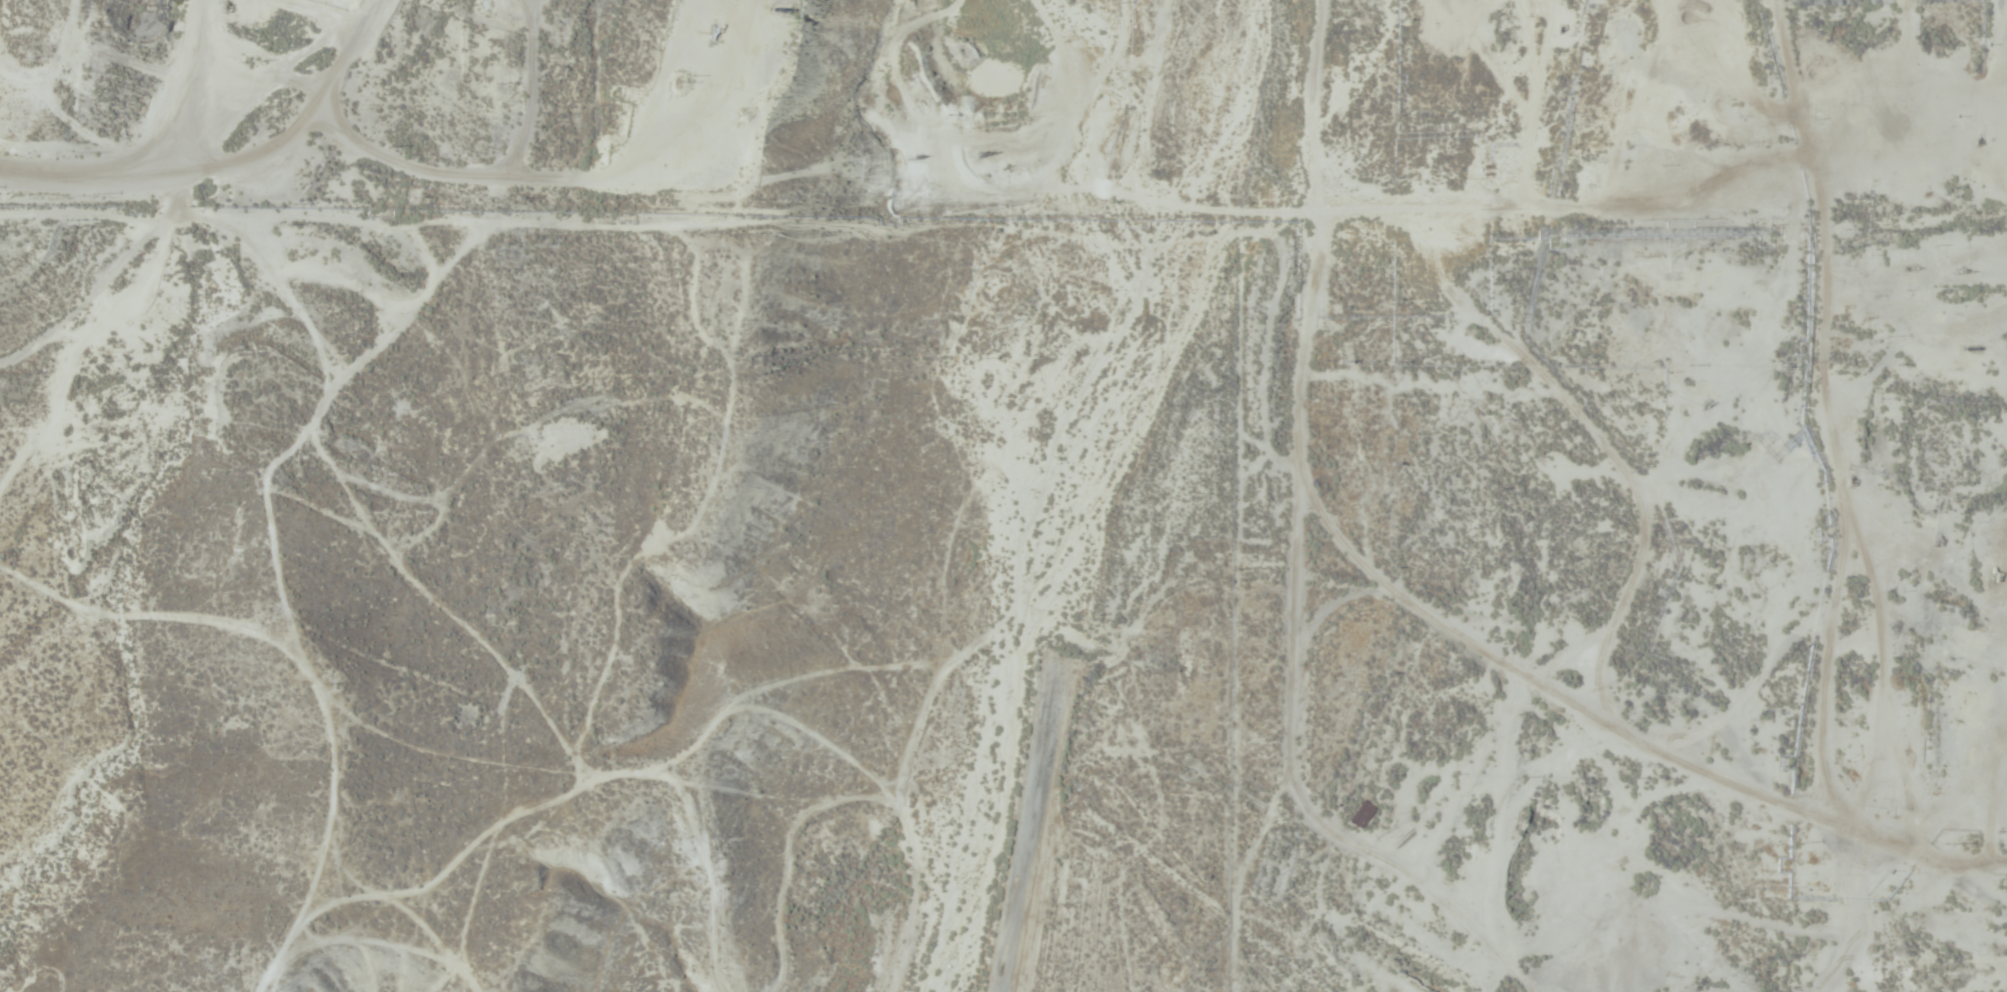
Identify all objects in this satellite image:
road: (189, 182)
airport: (1029, 823)

